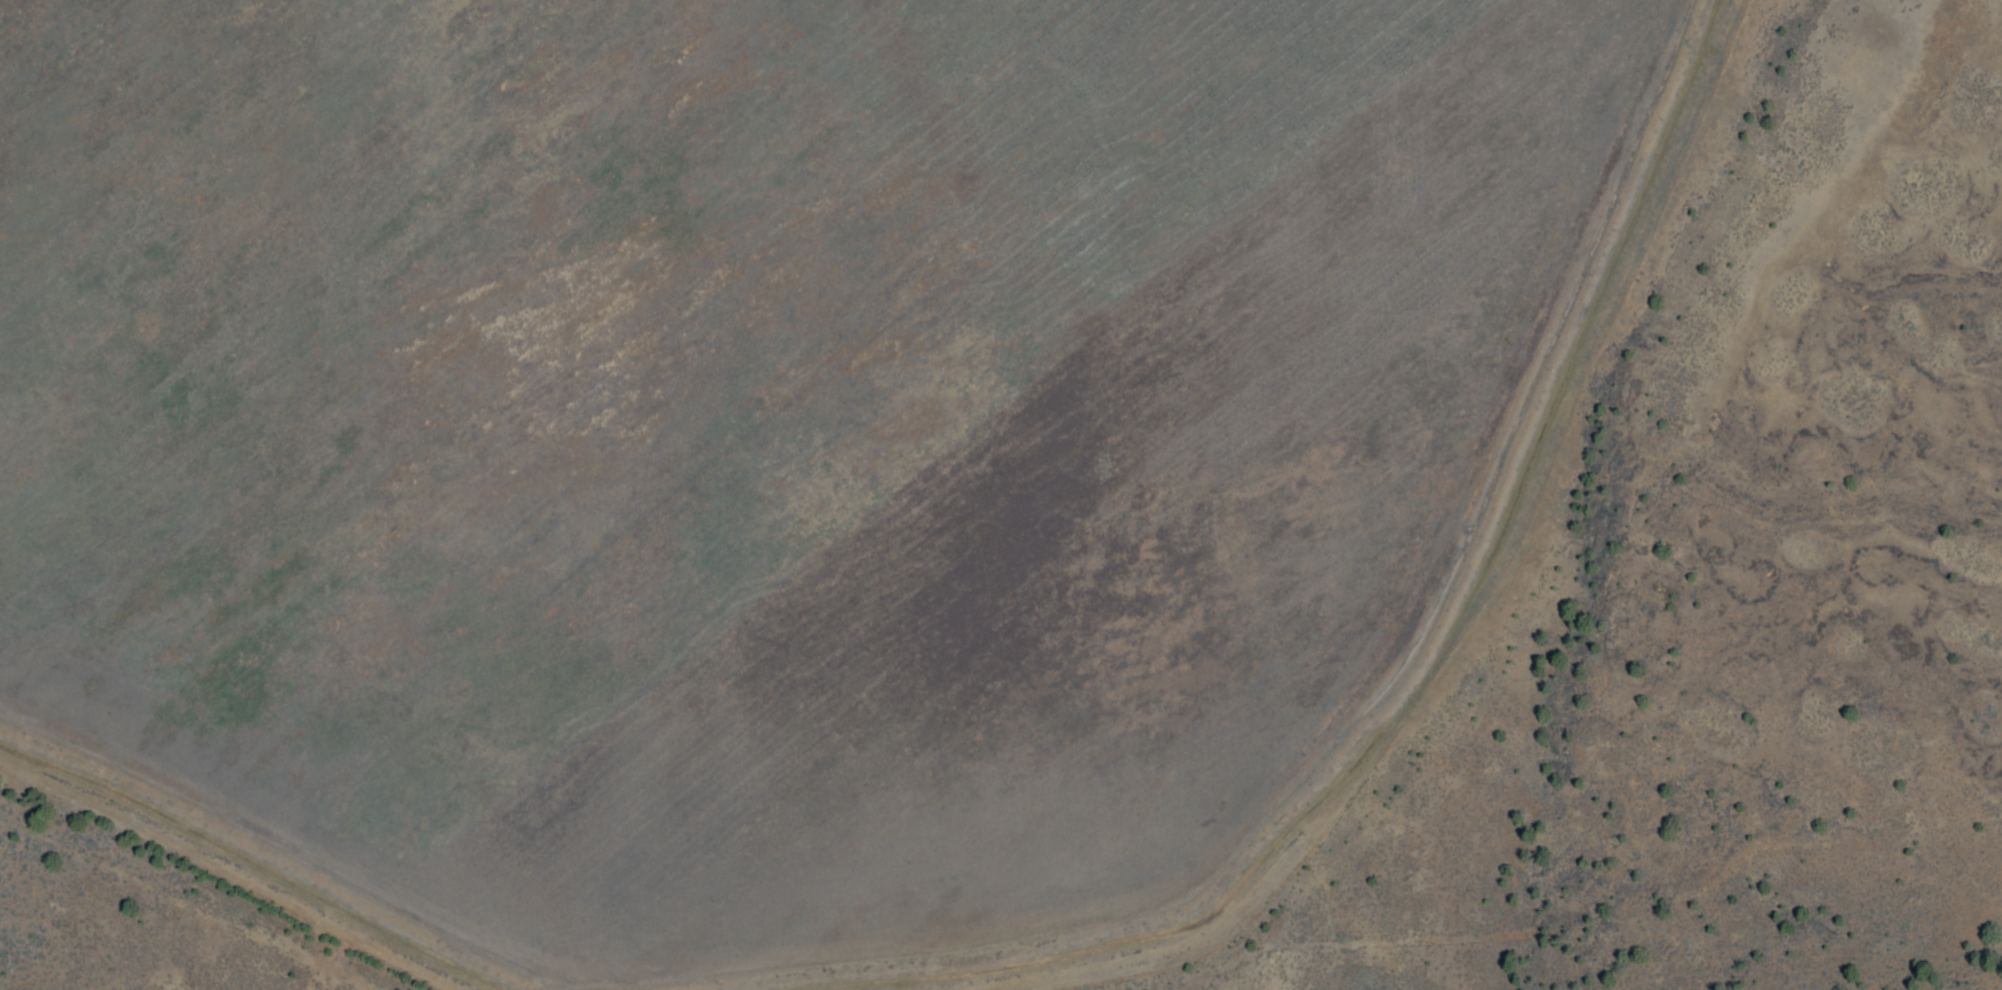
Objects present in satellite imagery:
crop: (1164, 106)
crop: (451, 374)
crop: (1087, 580)

